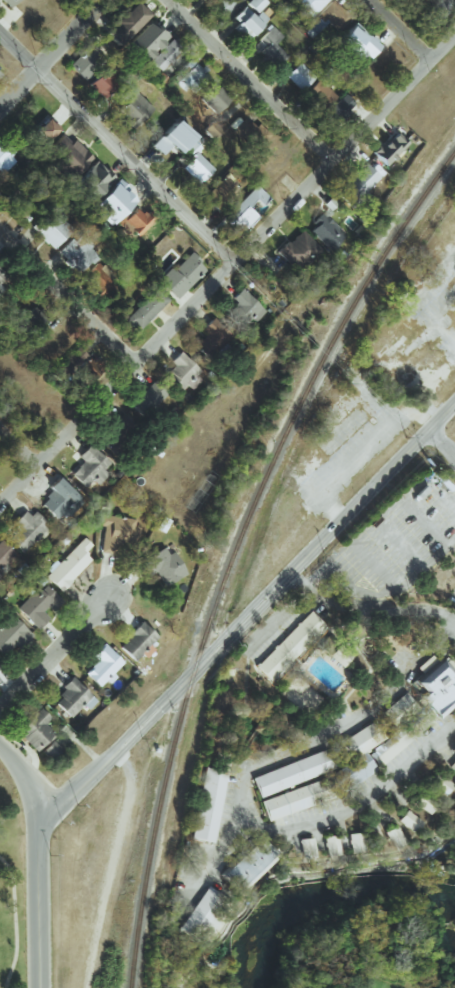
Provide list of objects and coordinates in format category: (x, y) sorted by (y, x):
building: (221, 4)
building: (256, 4)
building: (308, 5)
building: (435, 12)
building: (328, 14)
building: (125, 22)
building: (247, 23)
road: (401, 29)
building: (145, 40)
building: (357, 42)
building: (269, 47)
building: (165, 53)
road: (52, 55)
building: (83, 63)
building: (192, 75)
building: (298, 76)
road: (251, 79)
building: (102, 82)
building: (318, 94)
building: (214, 98)
building: (337, 105)
building: (132, 106)
building: (43, 129)
building: (211, 129)
building: (249, 134)
building: (172, 138)
road: (117, 147)
building: (389, 148)
building: (4, 156)
building: (65, 156)
building: (275, 159)
building: (196, 166)
building: (90, 181)
building: (356, 185)
building: (219, 194)
building: (15, 200)
building: (112, 201)
building: (243, 210)
building: (132, 220)
building: (51, 227)
building: (326, 232)
building: (298, 251)
building: (76, 252)
road: (226, 269)
building: (180, 275)
building: (1, 277)
building: (99, 277)
building: (0, 288)
road: (67, 298)
building: (145, 309)
building: (241, 309)
building: (31, 321)
building: (214, 331)
building: (85, 364)
building: (181, 372)
building: (147, 398)
building: (114, 434)
road: (19, 447)
road: (438, 450)
building: (89, 467)
building: (57, 498)
road: (364, 499)
road: (378, 515)
building: (24, 531)
building: (114, 532)
railway: (233, 547)
building: (5, 554)
parking lot: (412, 556)
building: (68, 565)
building: (162, 566)
road: (300, 582)
road: (388, 591)
building: (37, 605)
road: (343, 606)
building: (11, 635)
building: (137, 641)
building: (288, 645)
building: (339, 655)
road: (51, 656)
building: (103, 665)
road: (190, 668)
road: (197, 675)
building: (436, 687)
building: (72, 698)
building: (398, 708)
building: (35, 729)
theme park: (327, 732)
building: (399, 736)
road: (300, 746)
building: (49, 750)
building: (451, 764)
building: (352, 771)
building: (290, 772)
road: (23, 781)
building: (437, 784)
road: (75, 786)
building: (295, 798)
building: (419, 802)
building: (206, 803)
road: (357, 805)
building: (408, 821)
building: (393, 837)
building: (353, 842)
building: (329, 845)
building: (305, 847)
building: (246, 864)
park: (10, 890)
river: (347, 893)
road: (35, 905)
building: (194, 909)
park: (363, 980)

